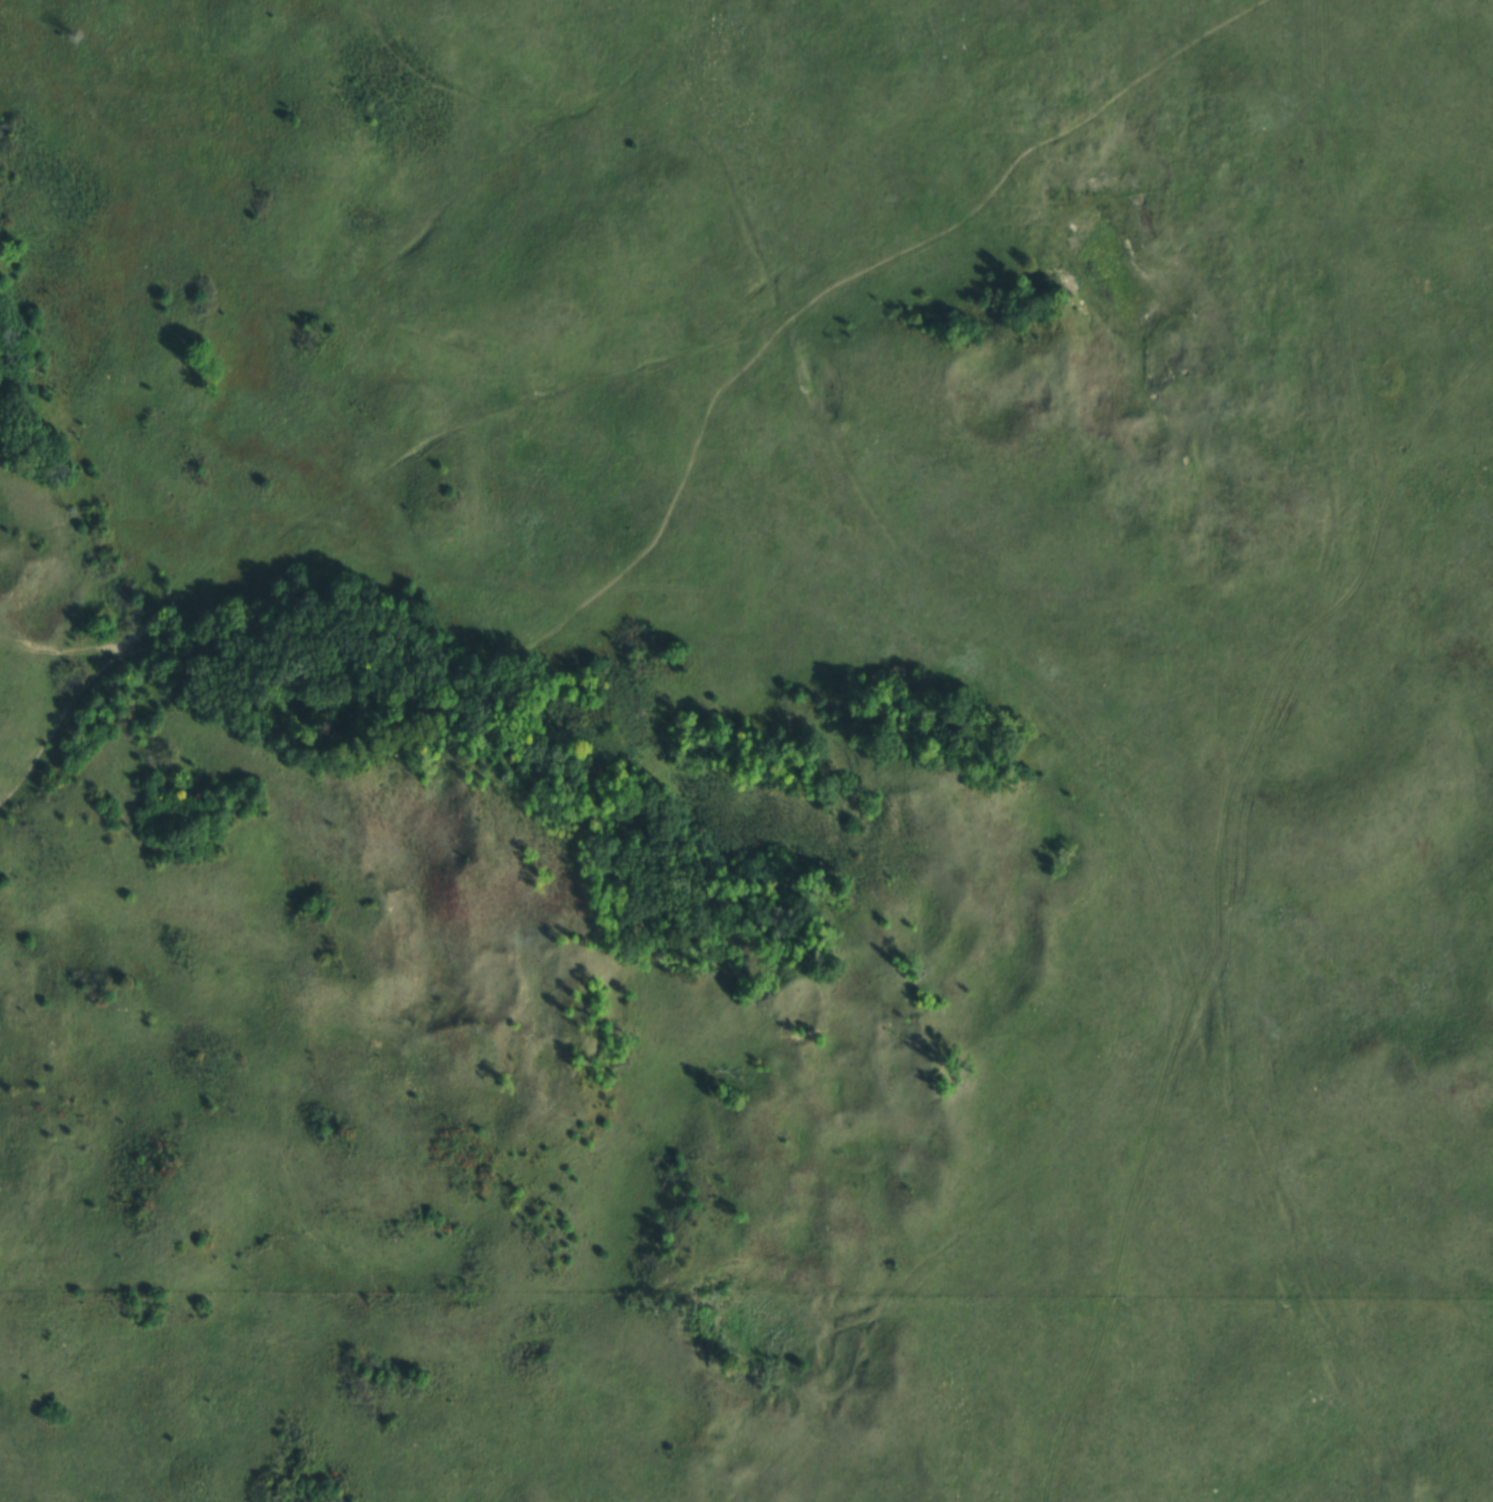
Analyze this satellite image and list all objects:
road: (666, 510)
road: (82, 650)

